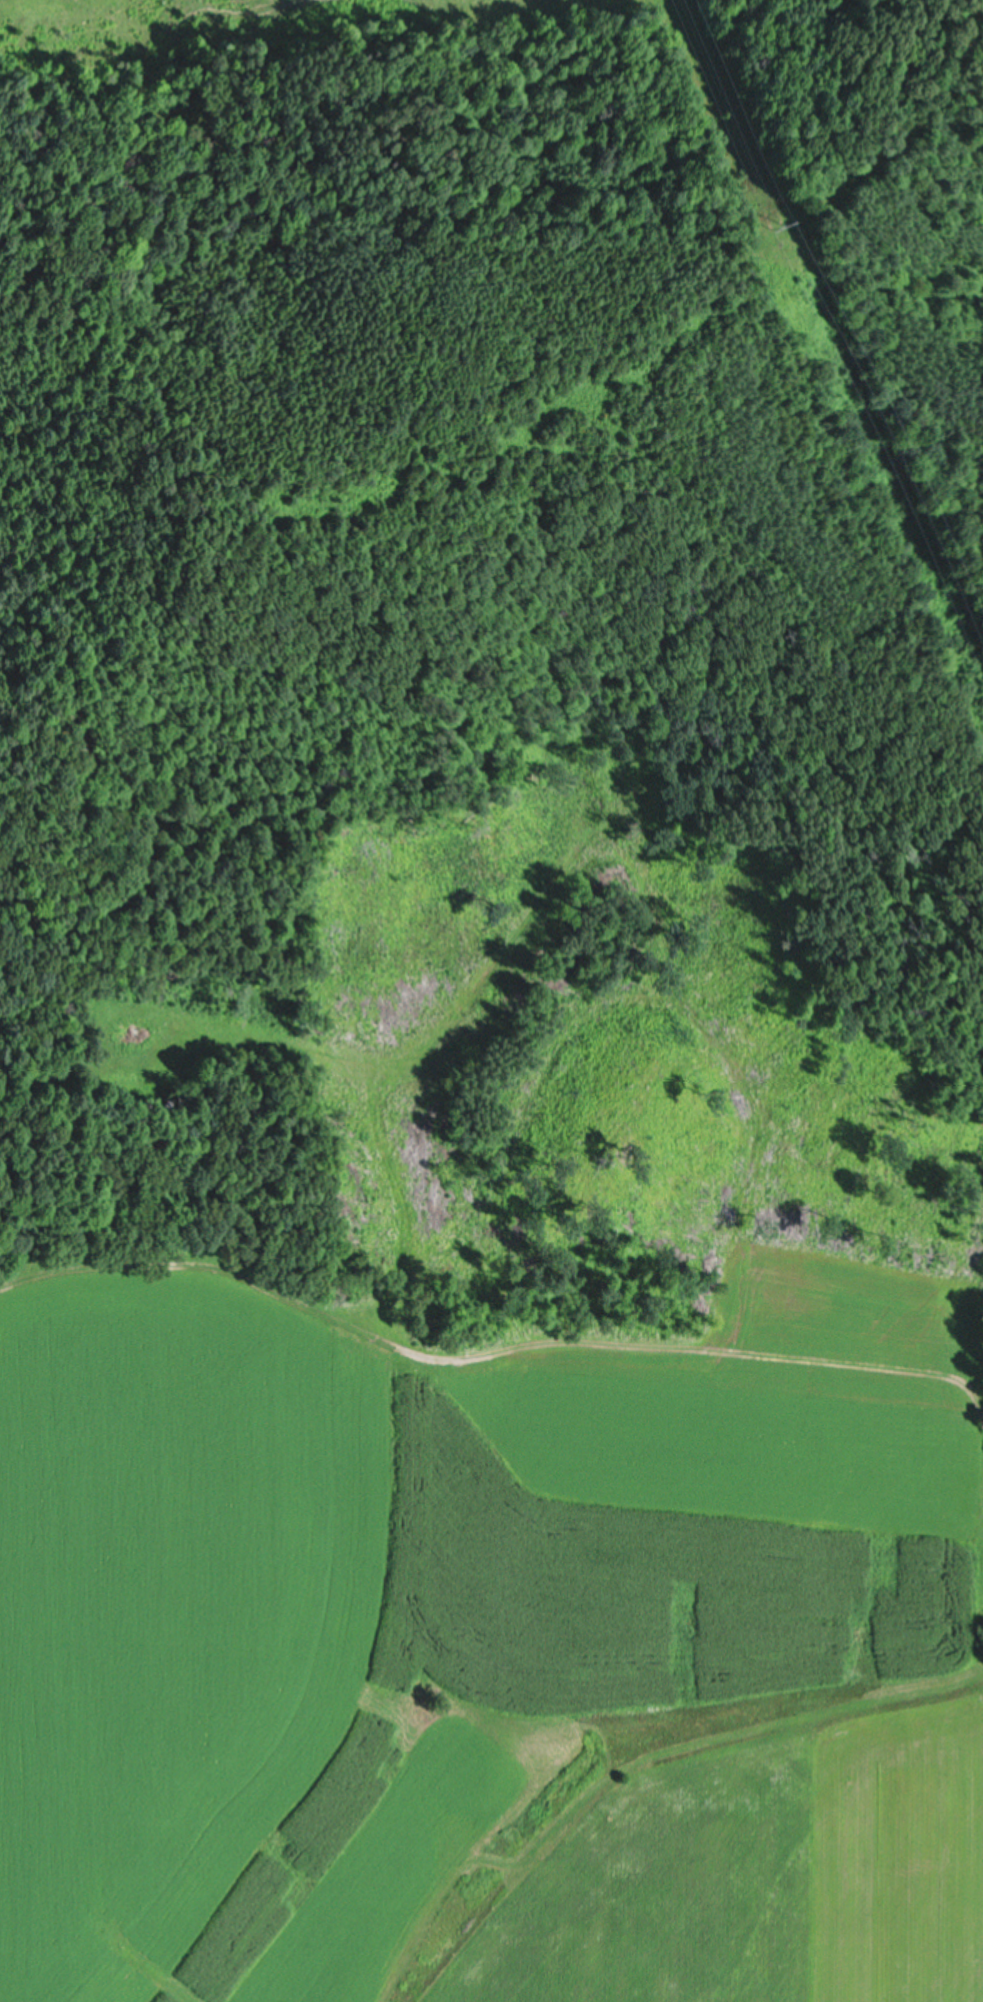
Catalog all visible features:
power tower: (776, 225)

